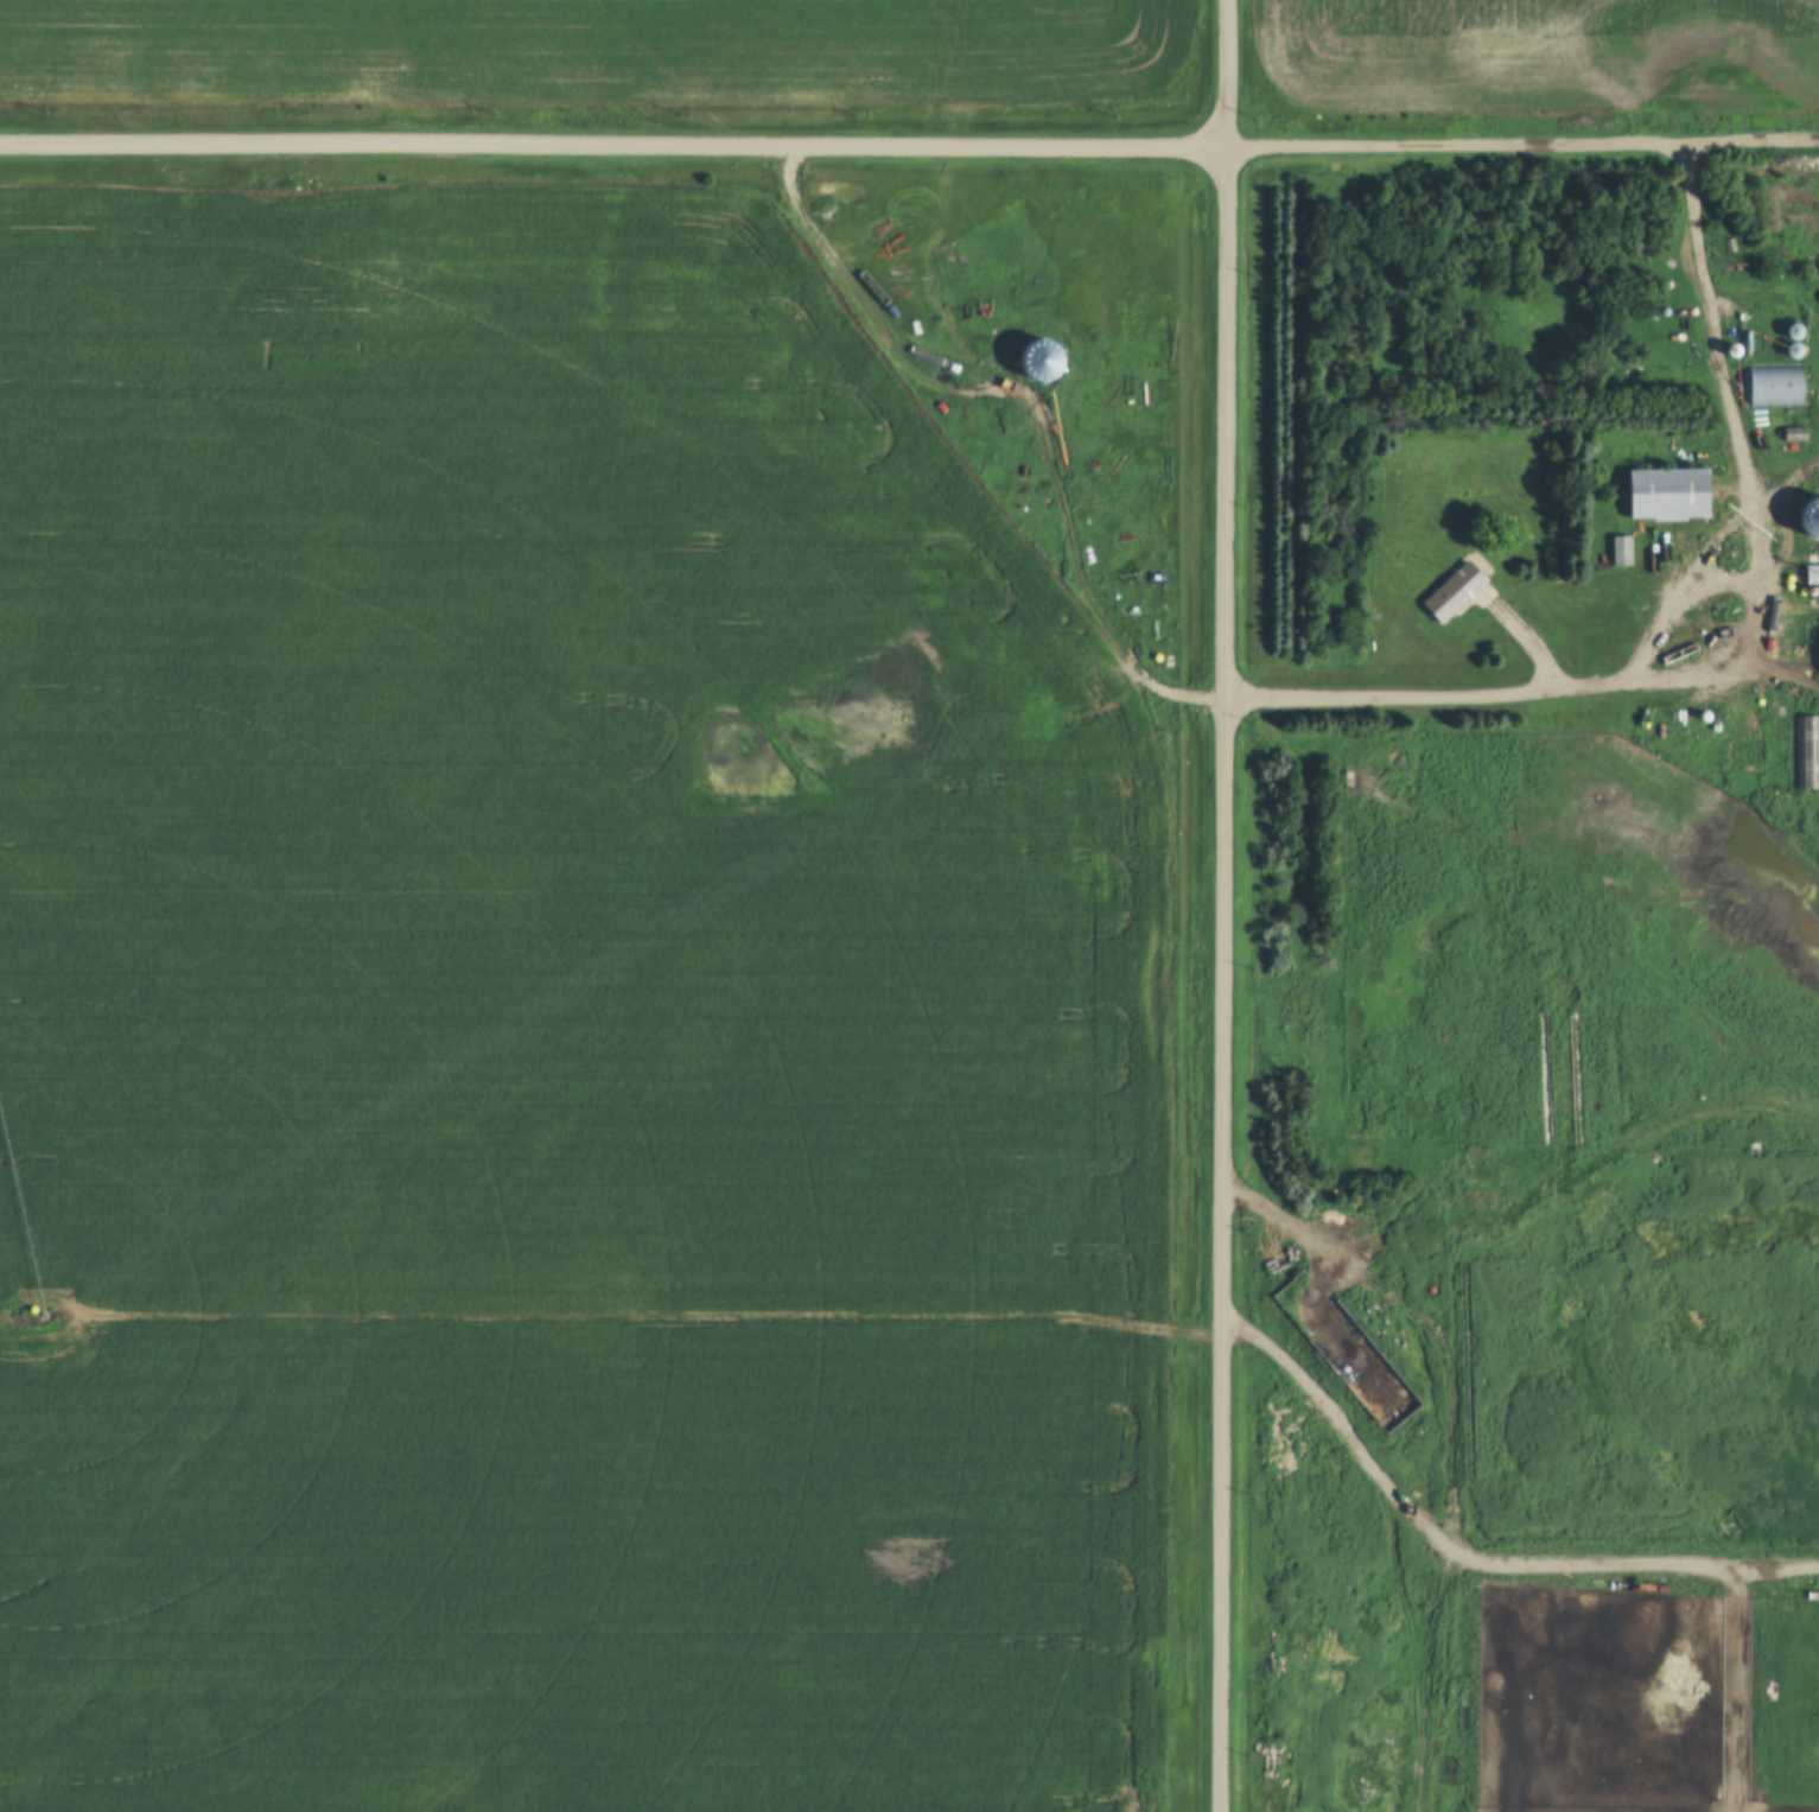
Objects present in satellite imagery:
road: (615, 141)
road: (1459, 146)
road: (1755, 148)
building: (1788, 338)
road: (1738, 424)
building: (1662, 496)
building: (1811, 516)
building: (1617, 553)
building: (1811, 576)
building: (1450, 593)
building: (1818, 654)
road: (1525, 691)
building: (1806, 752)
road: (1227, 905)
road: (1437, 1391)
road: (1334, 1405)

